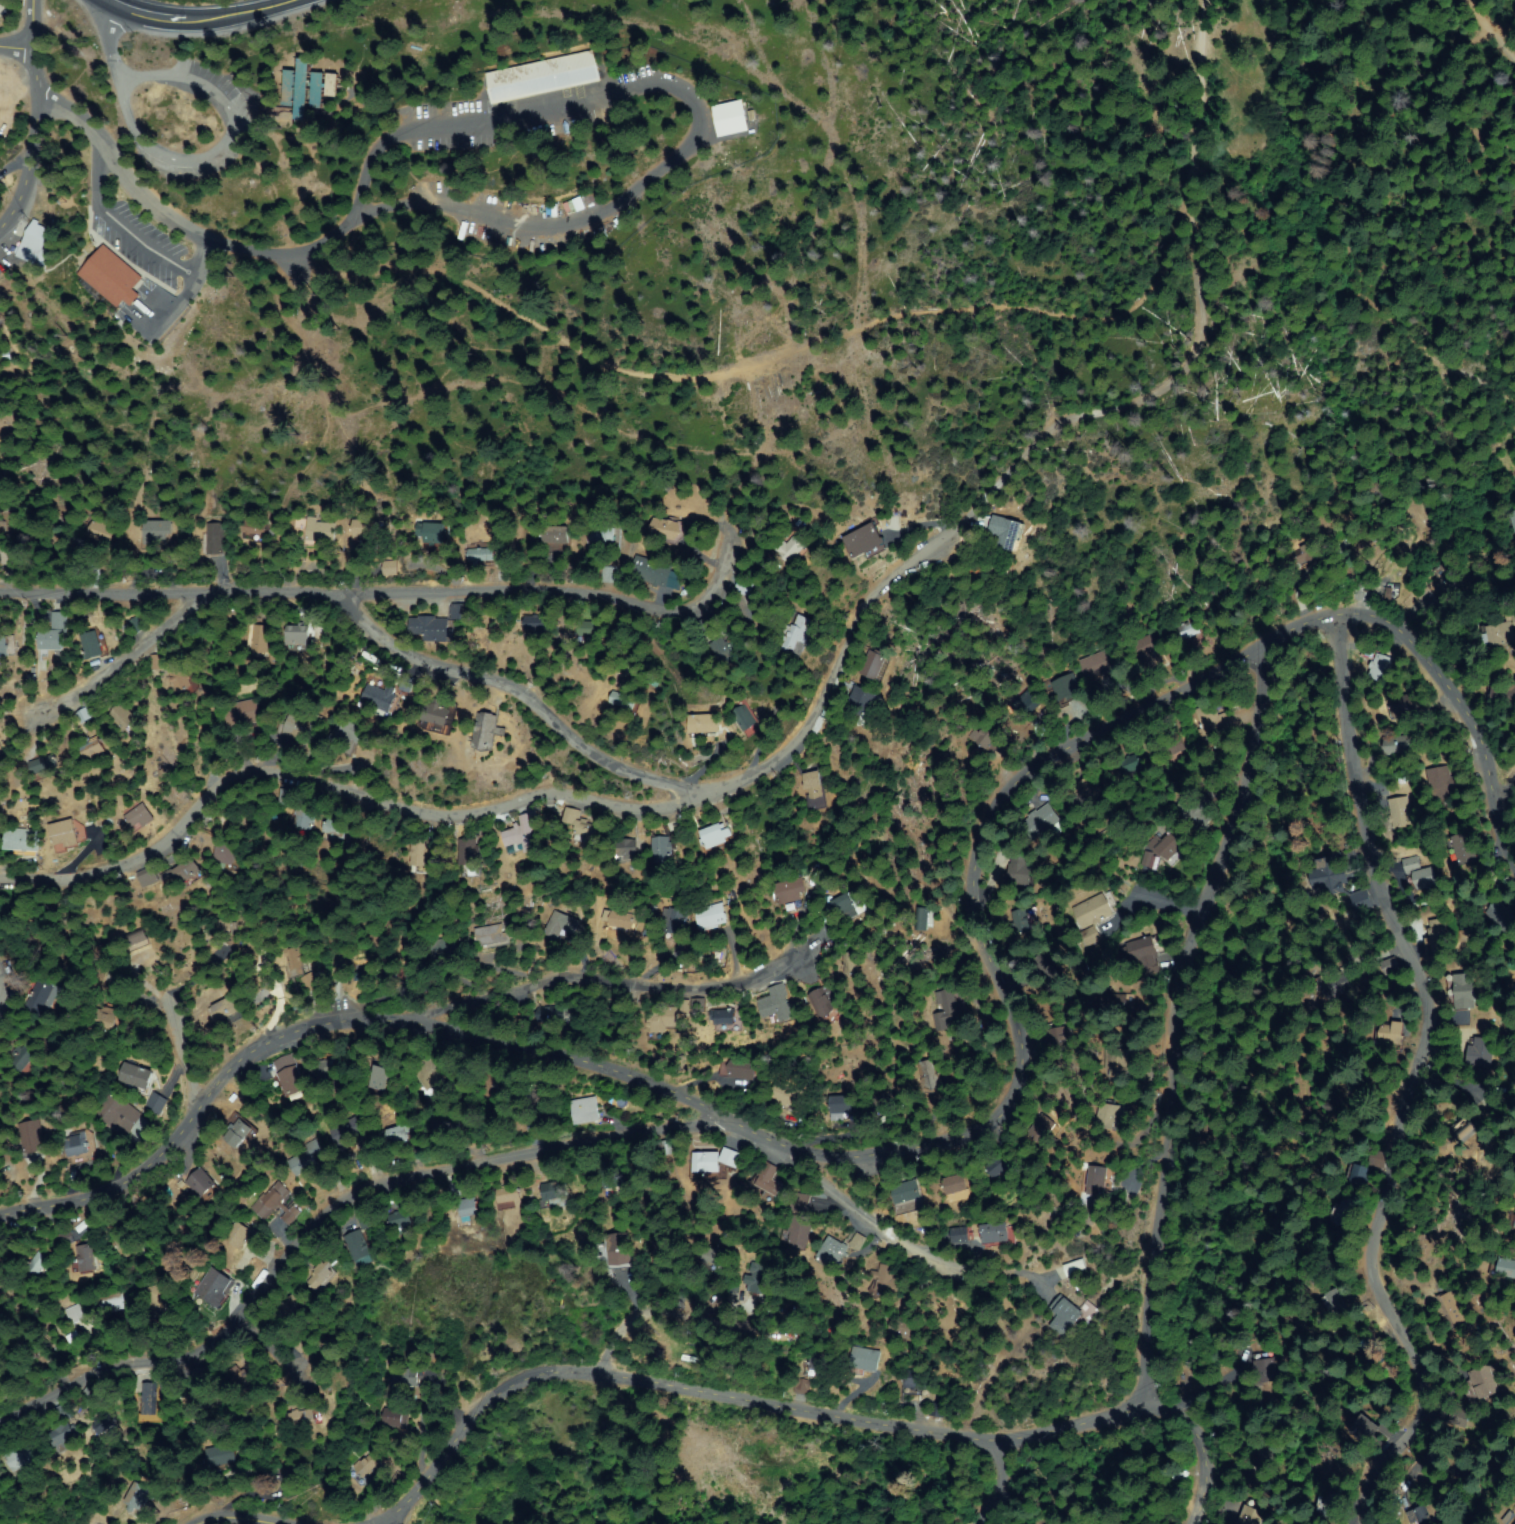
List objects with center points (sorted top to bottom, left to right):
building: (5, 4)
road: (205, 19)
road: (1487, 39)
road: (122, 45)
building: (543, 77)
building: (308, 88)
road: (667, 88)
road: (1191, 90)
road: (236, 101)
parking lot: (238, 113)
road: (16, 116)
building: (731, 118)
road: (114, 152)
building: (37, 243)
road: (275, 261)
building: (112, 276)
road: (789, 346)
road: (1155, 392)
building: (1511, 521)
building: (255, 528)
building: (670, 530)
building: (366, 531)
building: (1005, 531)
building: (100, 532)
building: (321, 532)
building: (156, 533)
building: (556, 534)
building: (604, 536)
building: (435, 537)
building: (215, 540)
building: (866, 540)
building: (793, 548)
building: (481, 555)
building: (1303, 555)
building: (391, 568)
building: (658, 574)
building: (1442, 585)
building: (747, 589)
road: (489, 600)
building: (460, 611)
building: (136, 625)
building: (533, 626)
building: (709, 627)
building: (433, 628)
building: (56, 629)
building: (593, 629)
building: (1186, 630)
building: (1499, 630)
building: (297, 632)
building: (797, 636)
building: (260, 639)
building: (90, 644)
building: (1145, 648)
building: (5, 650)
building: (728, 650)
road: (117, 665)
building: (876, 665)
building: (1097, 665)
building: (1378, 666)
building: (180, 679)
building: (1064, 688)
building: (1502, 697)
building: (380, 699)
building: (862, 701)
building: (625, 703)
building: (1022, 703)
building: (1405, 706)
building: (437, 712)
building: (242, 714)
road: (501, 716)
building: (125, 717)
building: (746, 719)
building: (1209, 720)
road: (1467, 721)
building: (705, 724)
building: (302, 730)
building: (347, 732)
building: (485, 732)
building: (983, 735)
building: (1396, 745)
building: (0, 747)
building: (1170, 748)
building: (93, 749)
building: (43, 764)
building: (1125, 764)
building: (816, 781)
building: (1439, 783)
road: (1501, 786)
building: (1087, 788)
building: (286, 797)
road: (530, 804)
building: (1399, 813)
building: (1191, 815)
building: (572, 816)
building: (139, 817)
building: (303, 818)
building: (1043, 822)
building: (337, 828)
building: (524, 835)
building: (67, 836)
building: (586, 836)
building: (714, 839)
building: (20, 840)
building: (1165, 845)
building: (657, 848)
building: (1461, 850)
building: (225, 852)
building: (645, 854)
building: (419, 857)
building: (469, 859)
building: (186, 870)
building: (1021, 871)
building: (1329, 873)
building: (1417, 873)
building: (150, 876)
building: (791, 891)
building: (1359, 899)
building: (848, 906)
building: (1094, 910)
road: (1152, 915)
building: (1499, 916)
building: (621, 917)
building: (928, 918)
building: (711, 919)
building: (1020, 919)
building: (674, 921)
building: (559, 926)
building: (218, 929)
building: (1091, 935)
building: (490, 936)
building: (1433, 936)
building: (137, 940)
building: (444, 947)
building: (1136, 950)
building: (290, 957)
building: (851, 962)
building: (1387, 967)
building: (1024, 974)
building: (1049, 974)
building: (411, 977)
building: (1333, 986)
building: (1458, 992)
road: (611, 995)
building: (44, 997)
building: (821, 1000)
building: (1111, 1000)
building: (698, 1005)
building: (226, 1007)
building: (685, 1007)
building: (779, 1008)
building: (948, 1009)
building: (554, 1013)
building: (612, 1015)
building: (724, 1016)
road: (1164, 1017)
building: (661, 1021)
building: (108, 1022)
building: (723, 1026)
building: (1386, 1033)
building: (1053, 1038)
building: (1475, 1053)
building: (26, 1056)
road: (178, 1059)
building: (1117, 1065)
building: (742, 1067)
building: (432, 1074)
building: (290, 1075)
building: (931, 1075)
building: (379, 1076)
building: (137, 1078)
building: (726, 1080)
road: (1408, 1083)
building: (545, 1095)
building: (789, 1097)
building: (158, 1103)
building: (882, 1104)
building: (843, 1105)
building: (585, 1111)
building: (124, 1116)
building: (1111, 1116)
building: (1039, 1127)
building: (349, 1130)
building: (1464, 1130)
building: (238, 1133)
building: (395, 1134)
building: (33, 1139)
building: (80, 1147)
road: (819, 1152)
building: (731, 1157)
building: (308, 1158)
building: (1002, 1162)
building: (706, 1164)
building: (1355, 1175)
building: (613, 1178)
building: (1098, 1179)
building: (767, 1182)
building: (204, 1184)
building: (654, 1184)
building: (955, 1184)
road: (385, 1188)
building: (508, 1194)
building: (555, 1194)
building: (907, 1194)
building: (270, 1199)
building: (800, 1203)
building: (469, 1208)
road: (905, 1209)
building: (1344, 1213)
building: (1513, 1214)
building: (291, 1215)
building: (361, 1220)
building: (369, 1221)
building: (401, 1221)
building: (798, 1231)
building: (994, 1233)
building: (241, 1235)
building: (961, 1235)
building: (63, 1239)
building: (855, 1240)
building: (127, 1247)
building: (361, 1249)
building: (617, 1251)
building: (832, 1252)
building: (664, 1256)
building: (715, 1257)
building: (85, 1258)
building: (37, 1263)
building: (1503, 1267)
building: (1075, 1268)
building: (323, 1269)
building: (759, 1278)
building: (885, 1279)
building: (215, 1287)
building: (116, 1300)
building: (163, 1301)
building: (1336, 1305)
building: (1453, 1307)
building: (292, 1308)
building: (75, 1312)
road: (646, 1316)
building: (1065, 1316)
building: (904, 1329)
building: (20, 1346)
building: (1368, 1351)
building: (864, 1360)
building: (826, 1365)
building: (1260, 1369)
road: (223, 1371)
building: (408, 1376)
building: (241, 1377)
building: (913, 1381)
building: (1483, 1383)
building: (167, 1387)
road: (736, 1391)
building: (85, 1396)
building: (197, 1401)
building: (148, 1403)
building: (936, 1409)
building: (301, 1415)
building: (1454, 1415)
building: (397, 1418)
building: (103, 1423)
building: (62, 1427)
building: (1383, 1428)
building: (1358, 1430)
road: (1193, 1444)
building: (220, 1457)
building: (1256, 1457)
building: (16, 1458)
building: (368, 1466)
building: (1464, 1474)
road: (981, 1481)
building: (140, 1495)
building: (1326, 1504)
building: (1242, 1514)
road: (262, 1515)
building: (1416, 1515)
building: (1110, 1520)
building: (1514, 1523)

